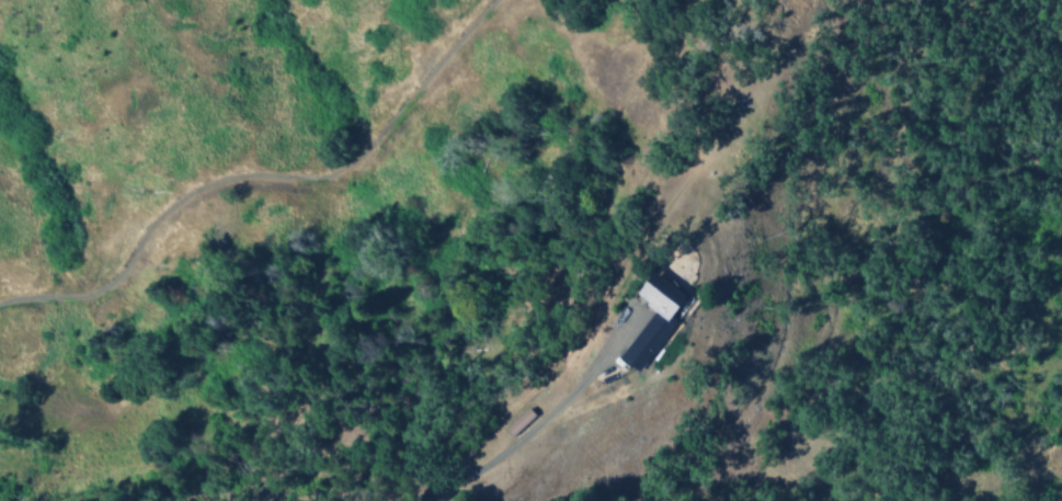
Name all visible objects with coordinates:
road: (263, 175)
road: (665, 212)
building: (651, 320)
road: (530, 430)

